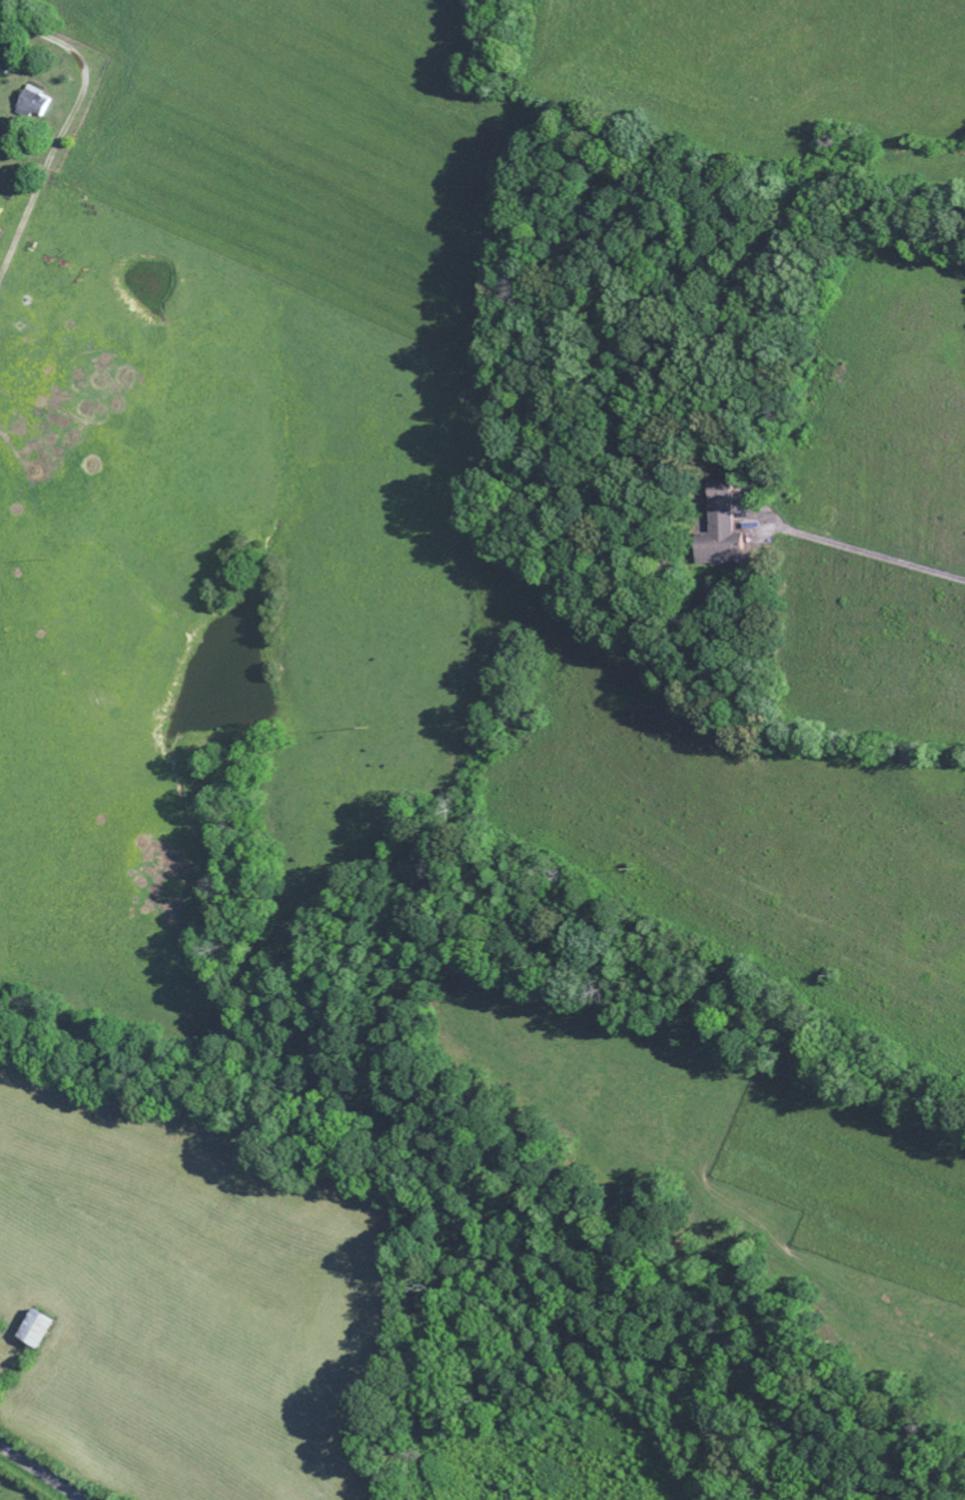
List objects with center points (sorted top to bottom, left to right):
building: (30, 107)
building: (719, 532)
building: (38, 1331)
road: (40, 1473)

